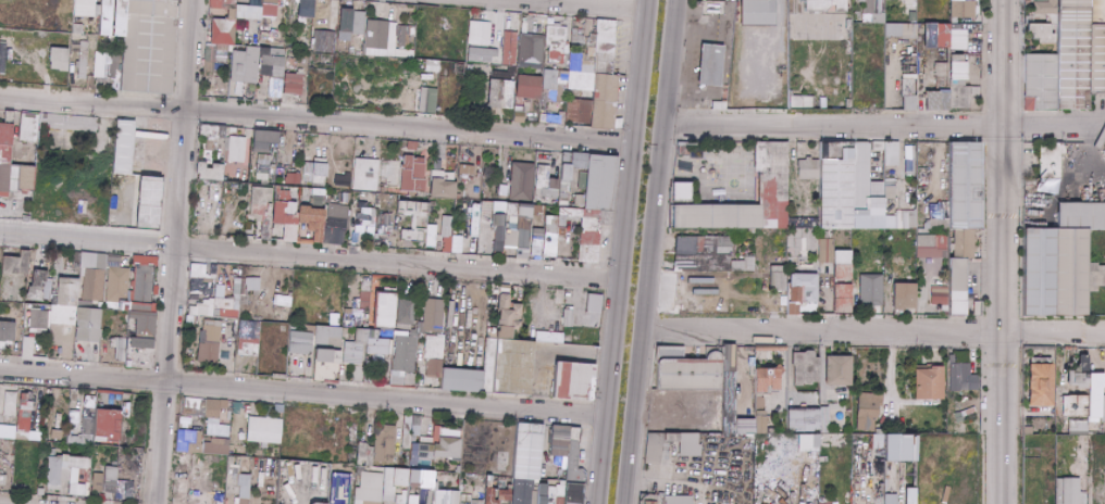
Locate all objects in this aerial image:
gas station: (704, 64)
park: (743, 177)

